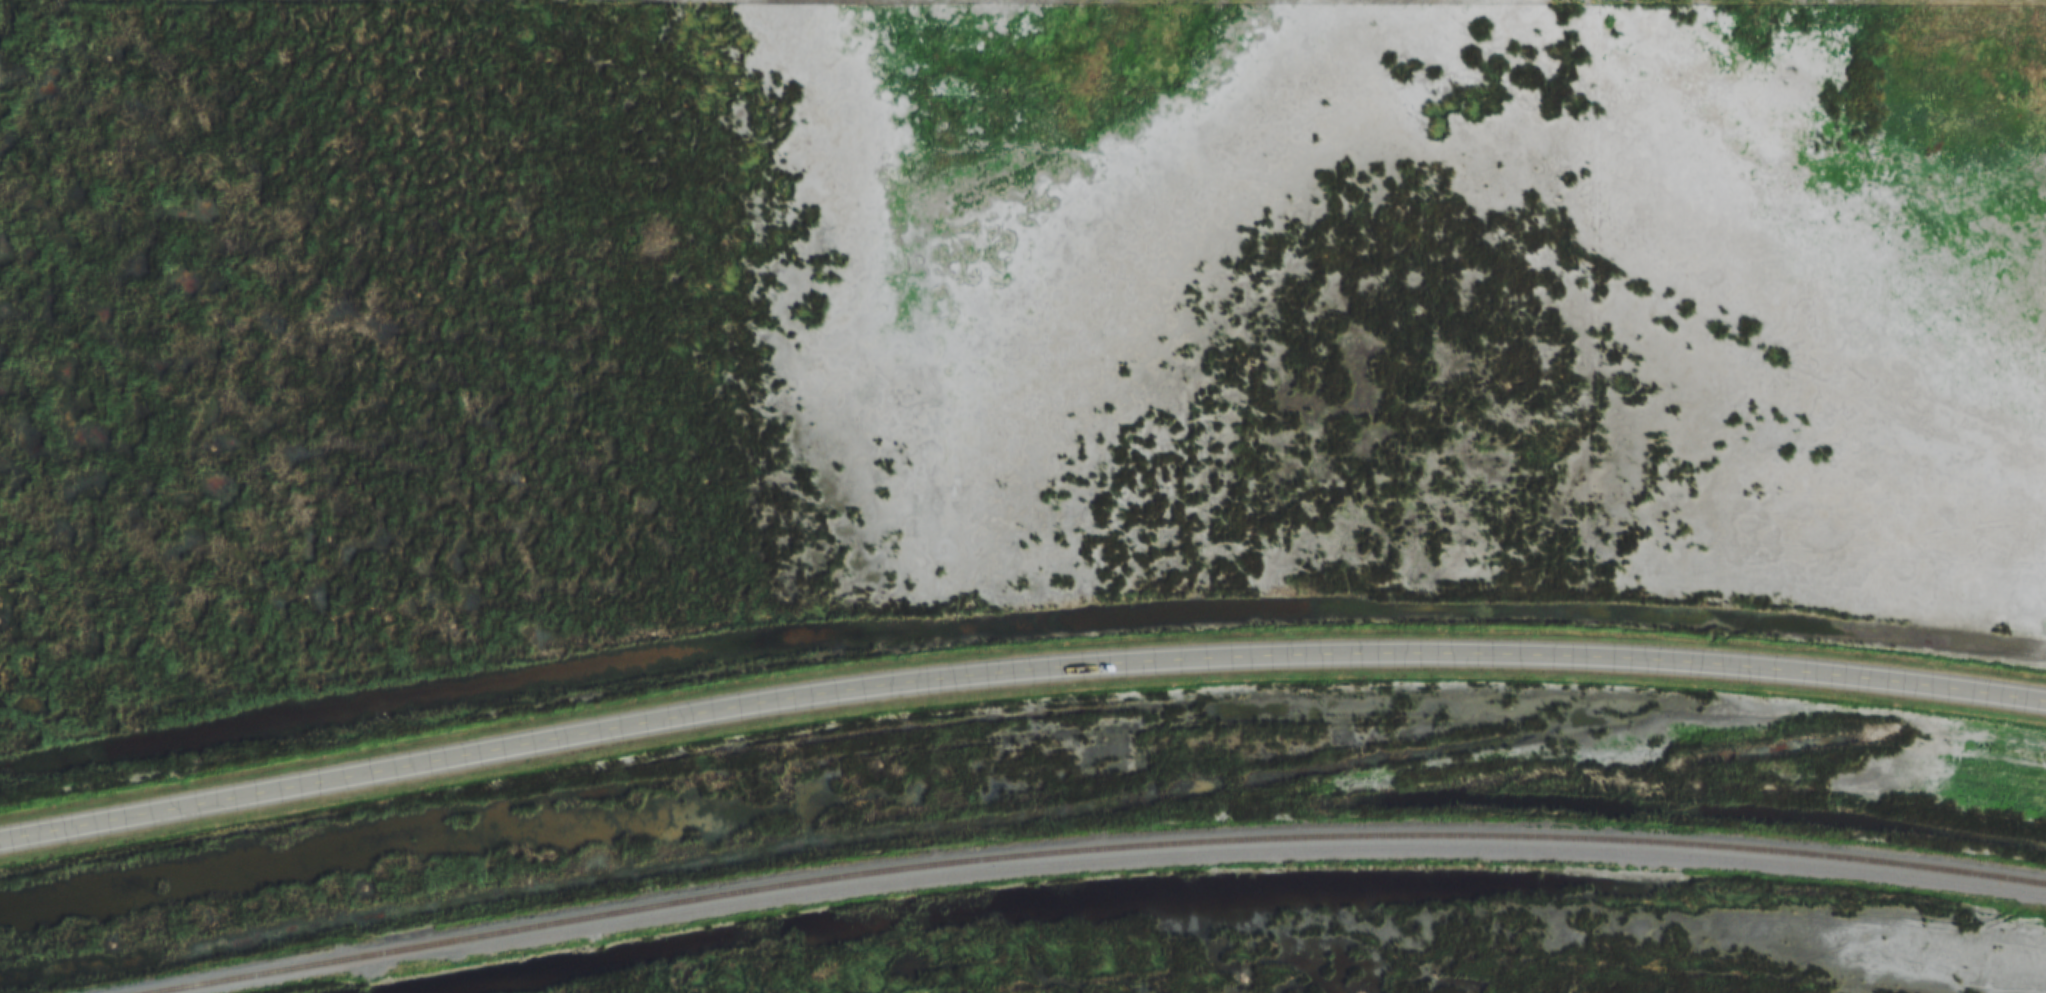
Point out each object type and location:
road: (1017, 667)
railway: (1087, 848)
railway: (1202, 852)

